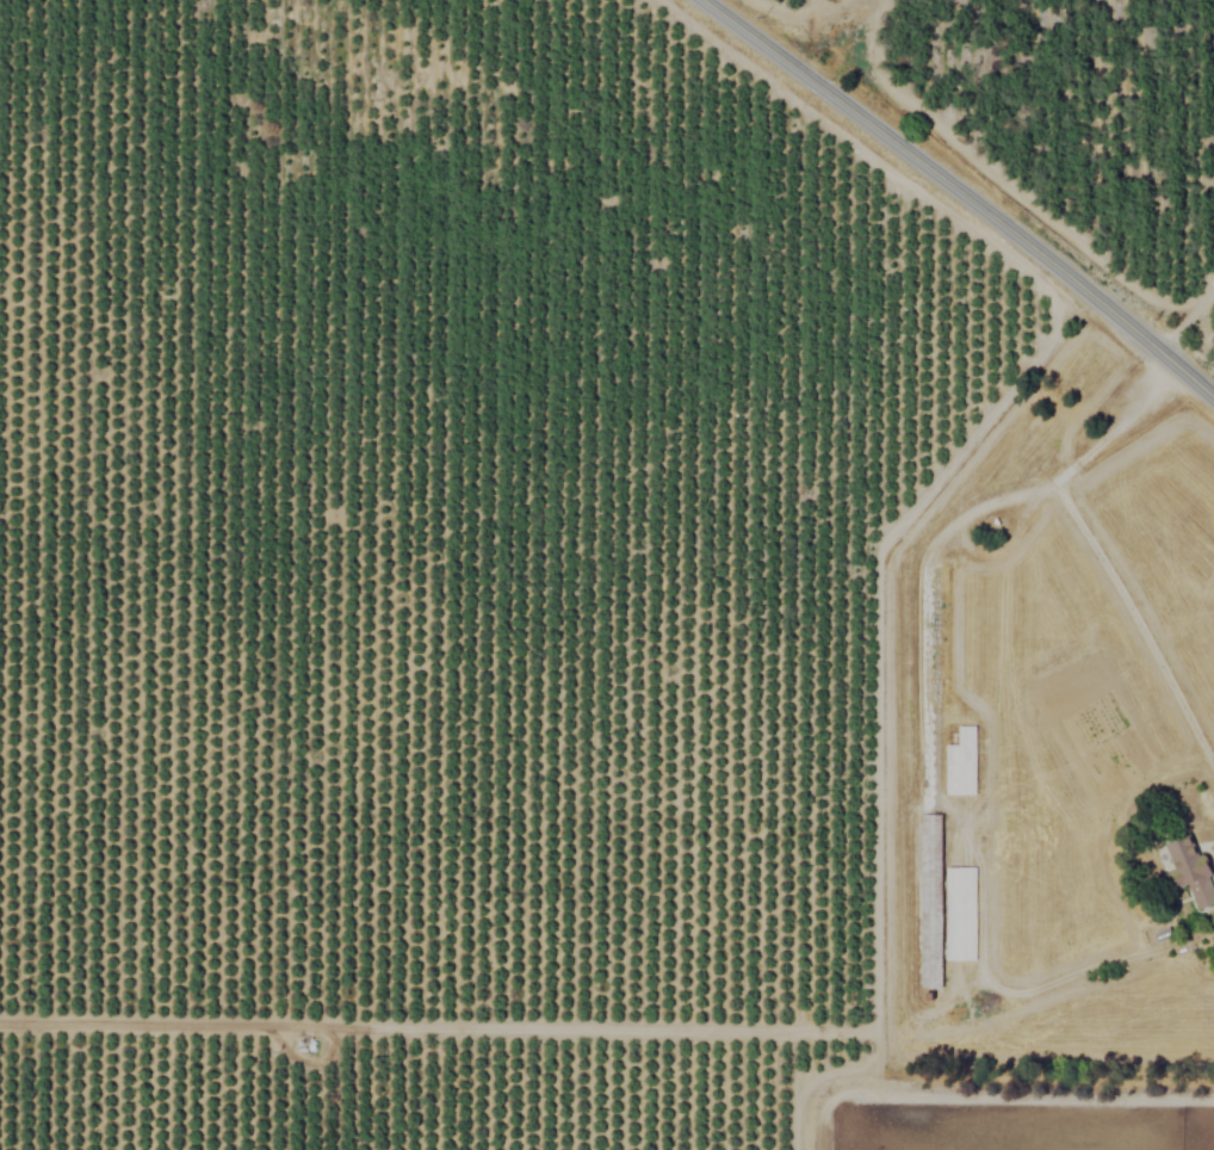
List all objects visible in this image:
road: (965, 191)
railway: (921, 222)
road: (1190, 316)
crop: (435, 574)
building: (964, 763)
building: (1193, 871)
building: (931, 901)
building: (961, 913)

